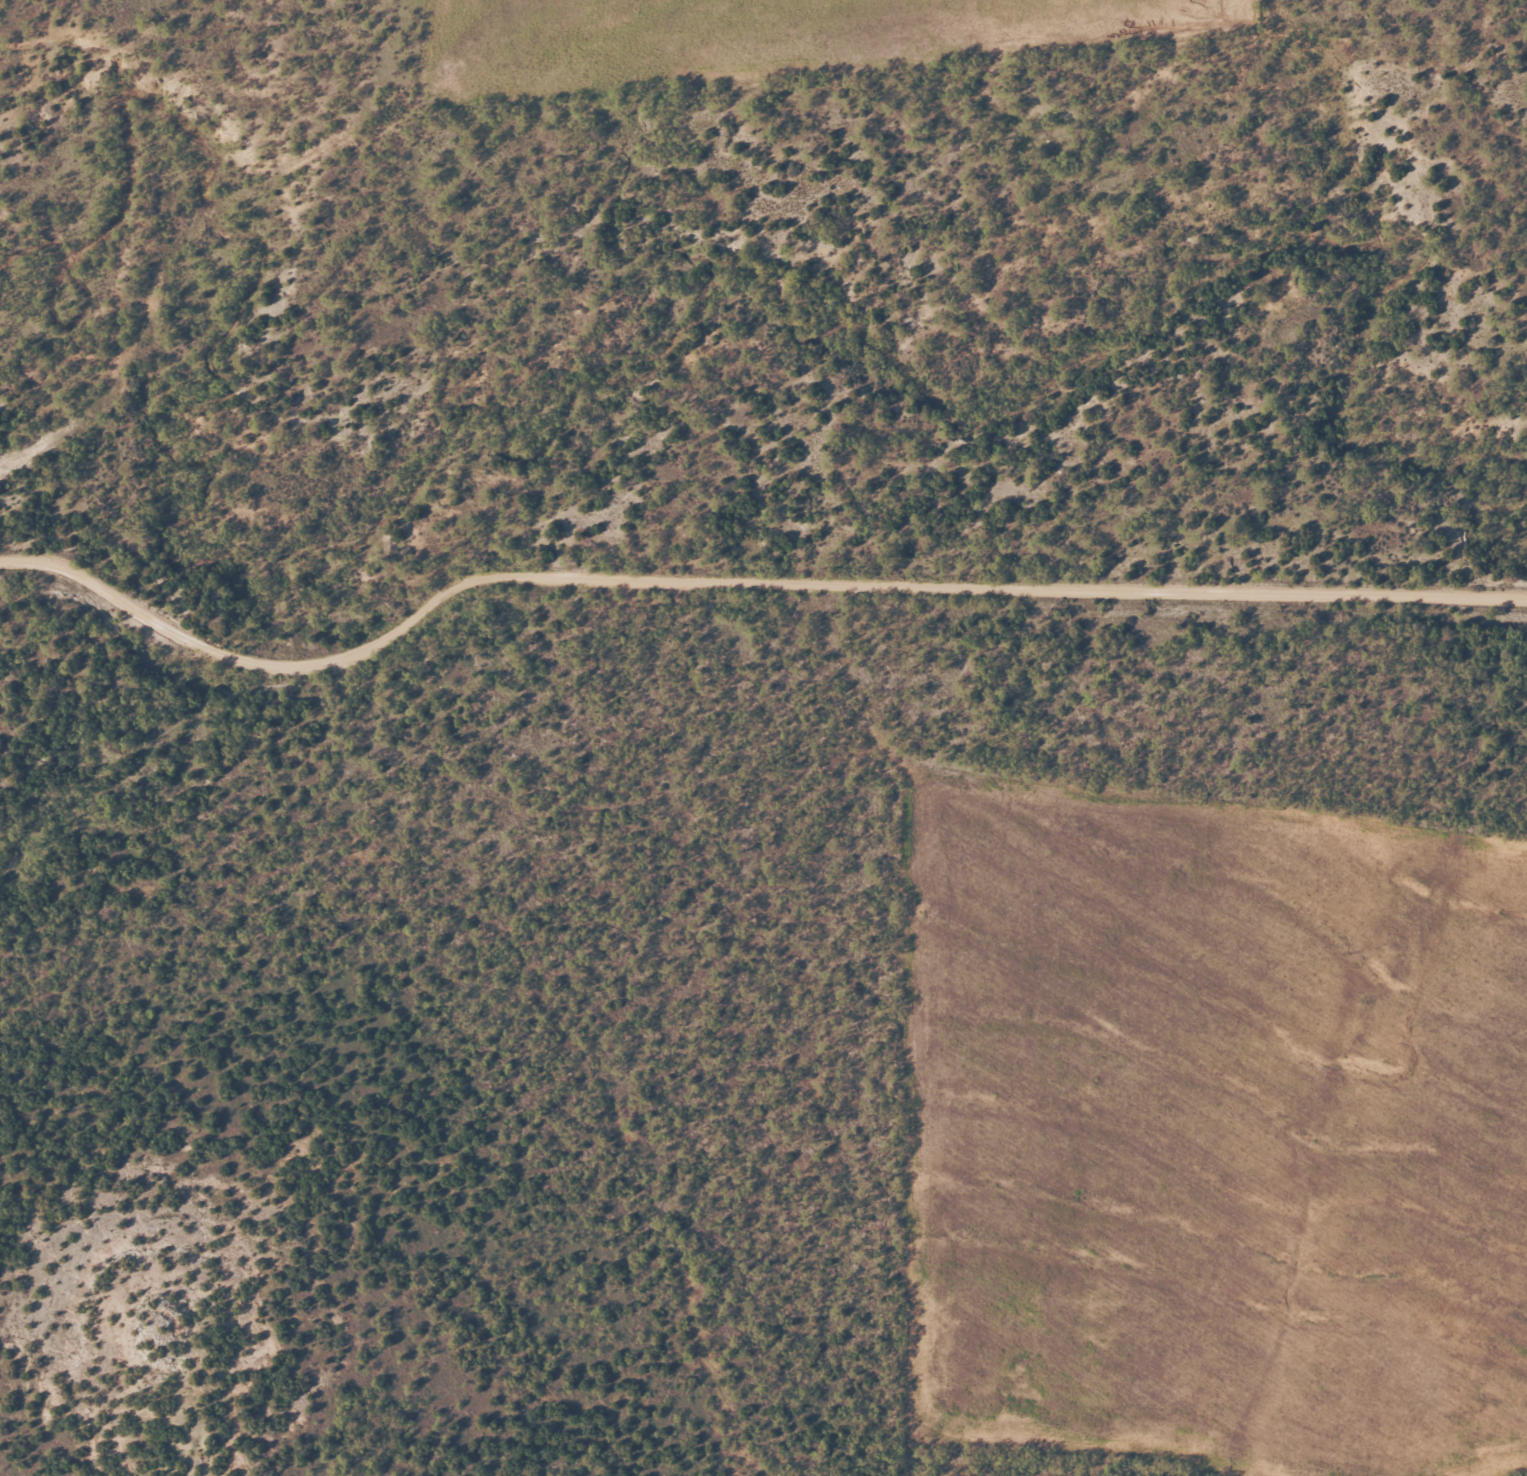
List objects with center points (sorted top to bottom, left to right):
road: (735, 615)
road: (340, 791)
road: (546, 925)

